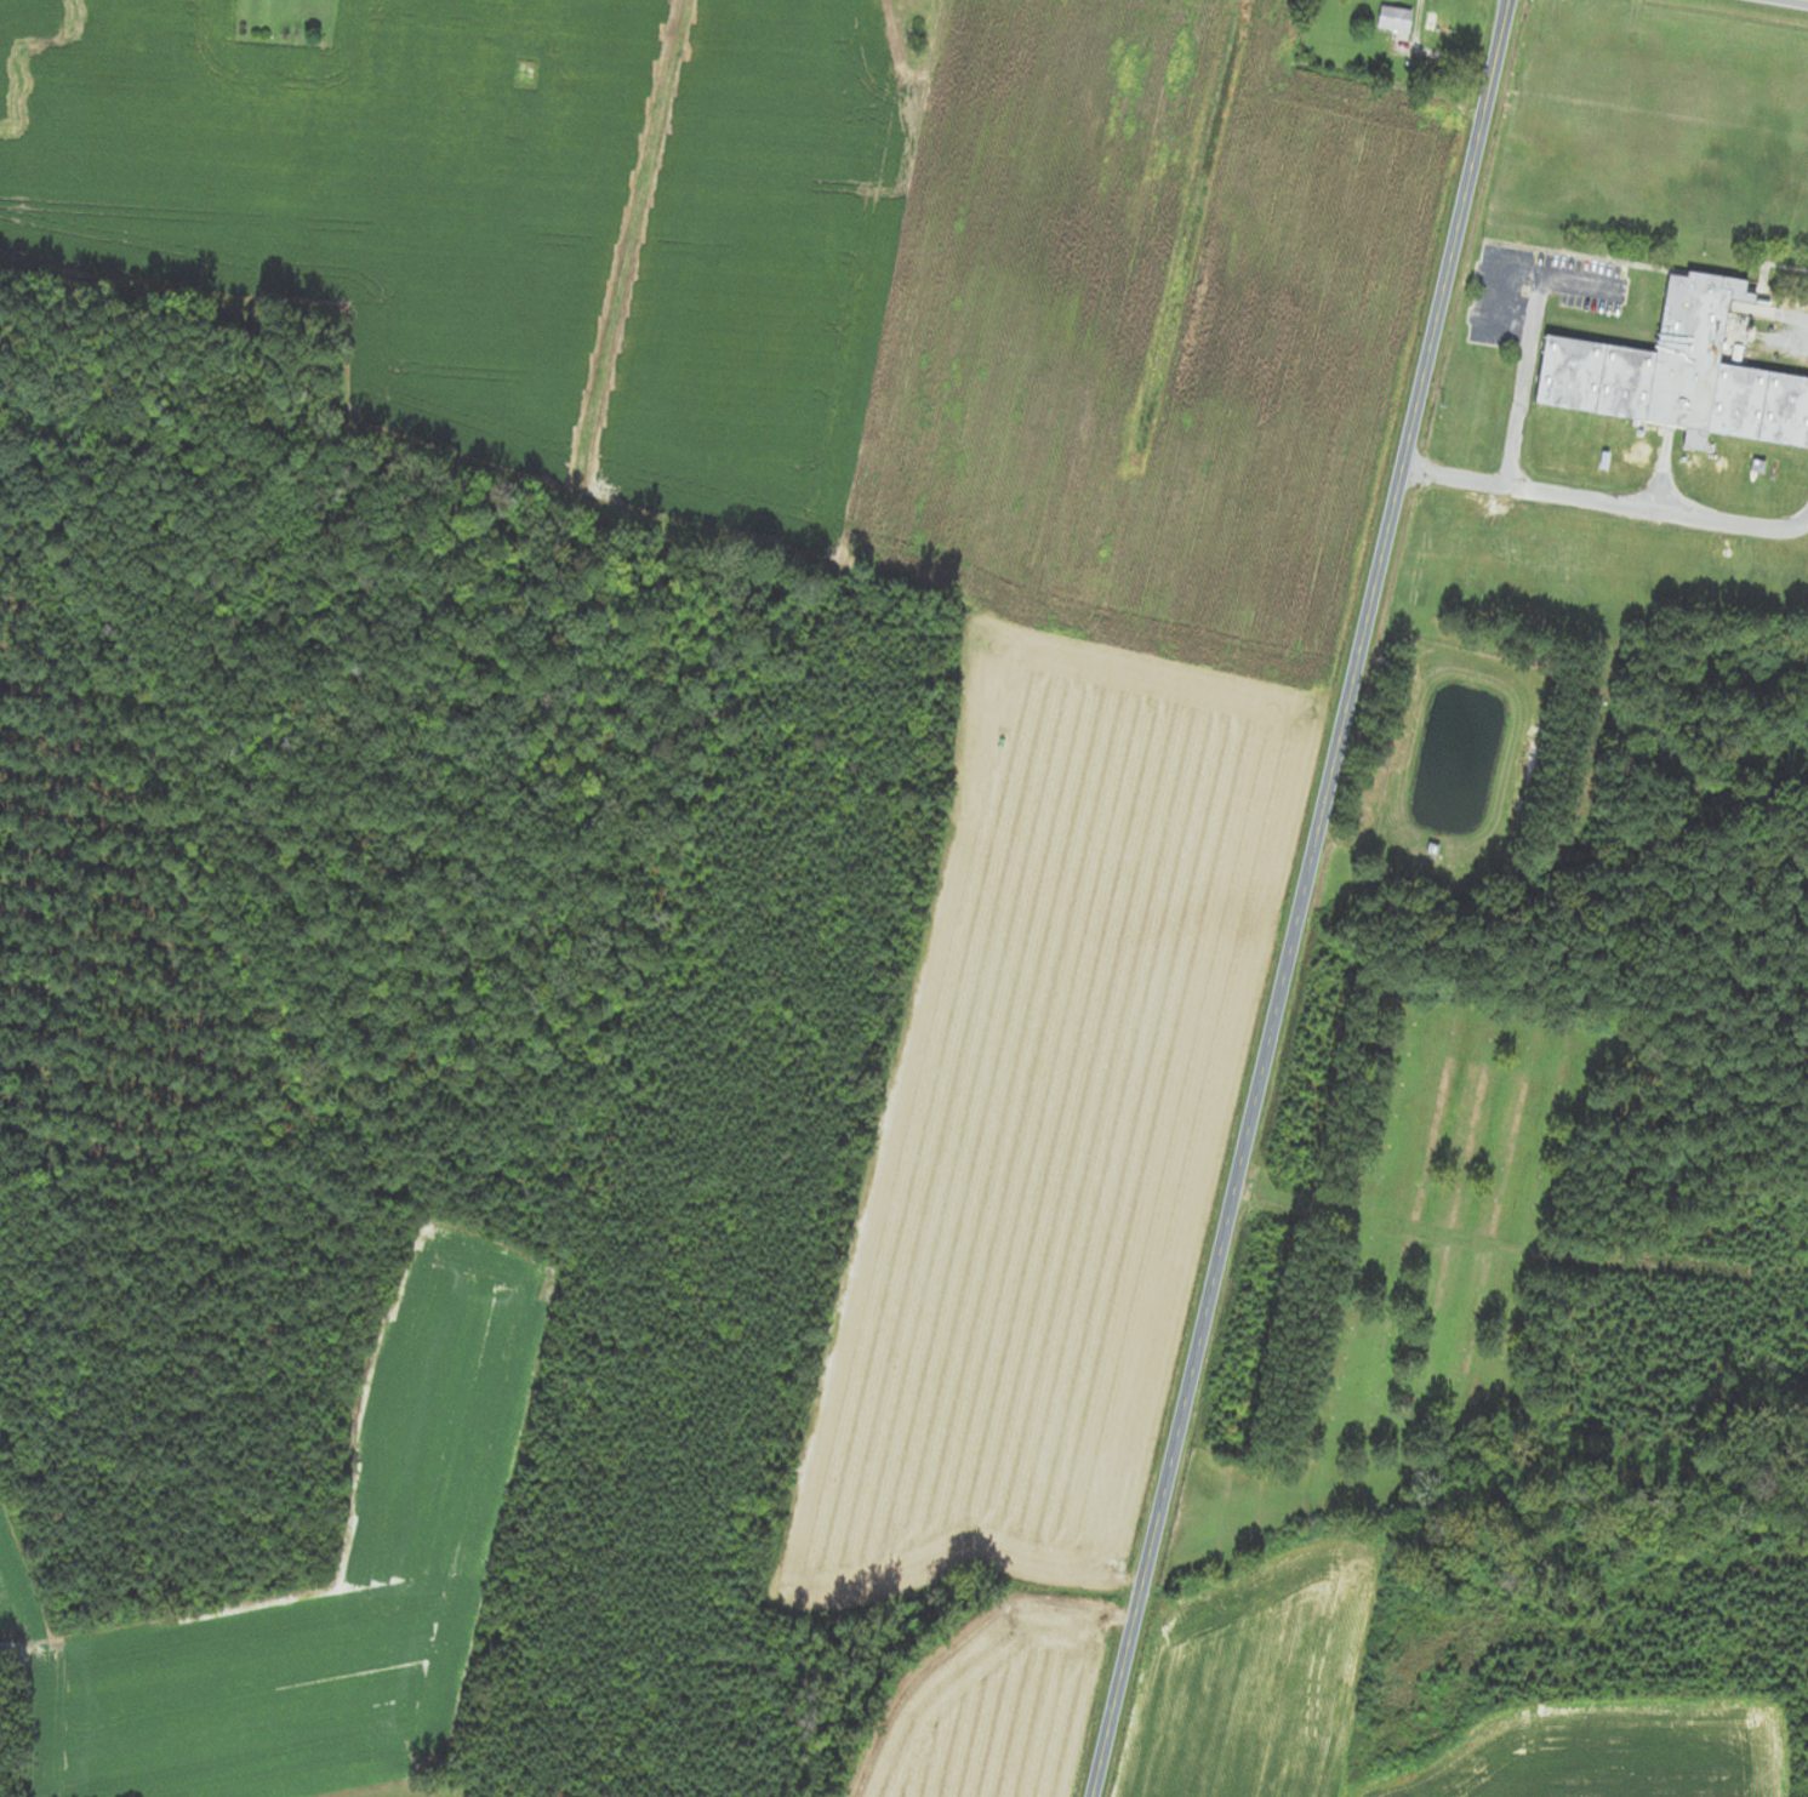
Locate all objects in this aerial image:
road: (1798, 1)
building: (1395, 21)
building: (1442, 32)
road: (1529, 343)
building: (1678, 376)
road: (1605, 503)
building: (1431, 849)
road: (1301, 898)

